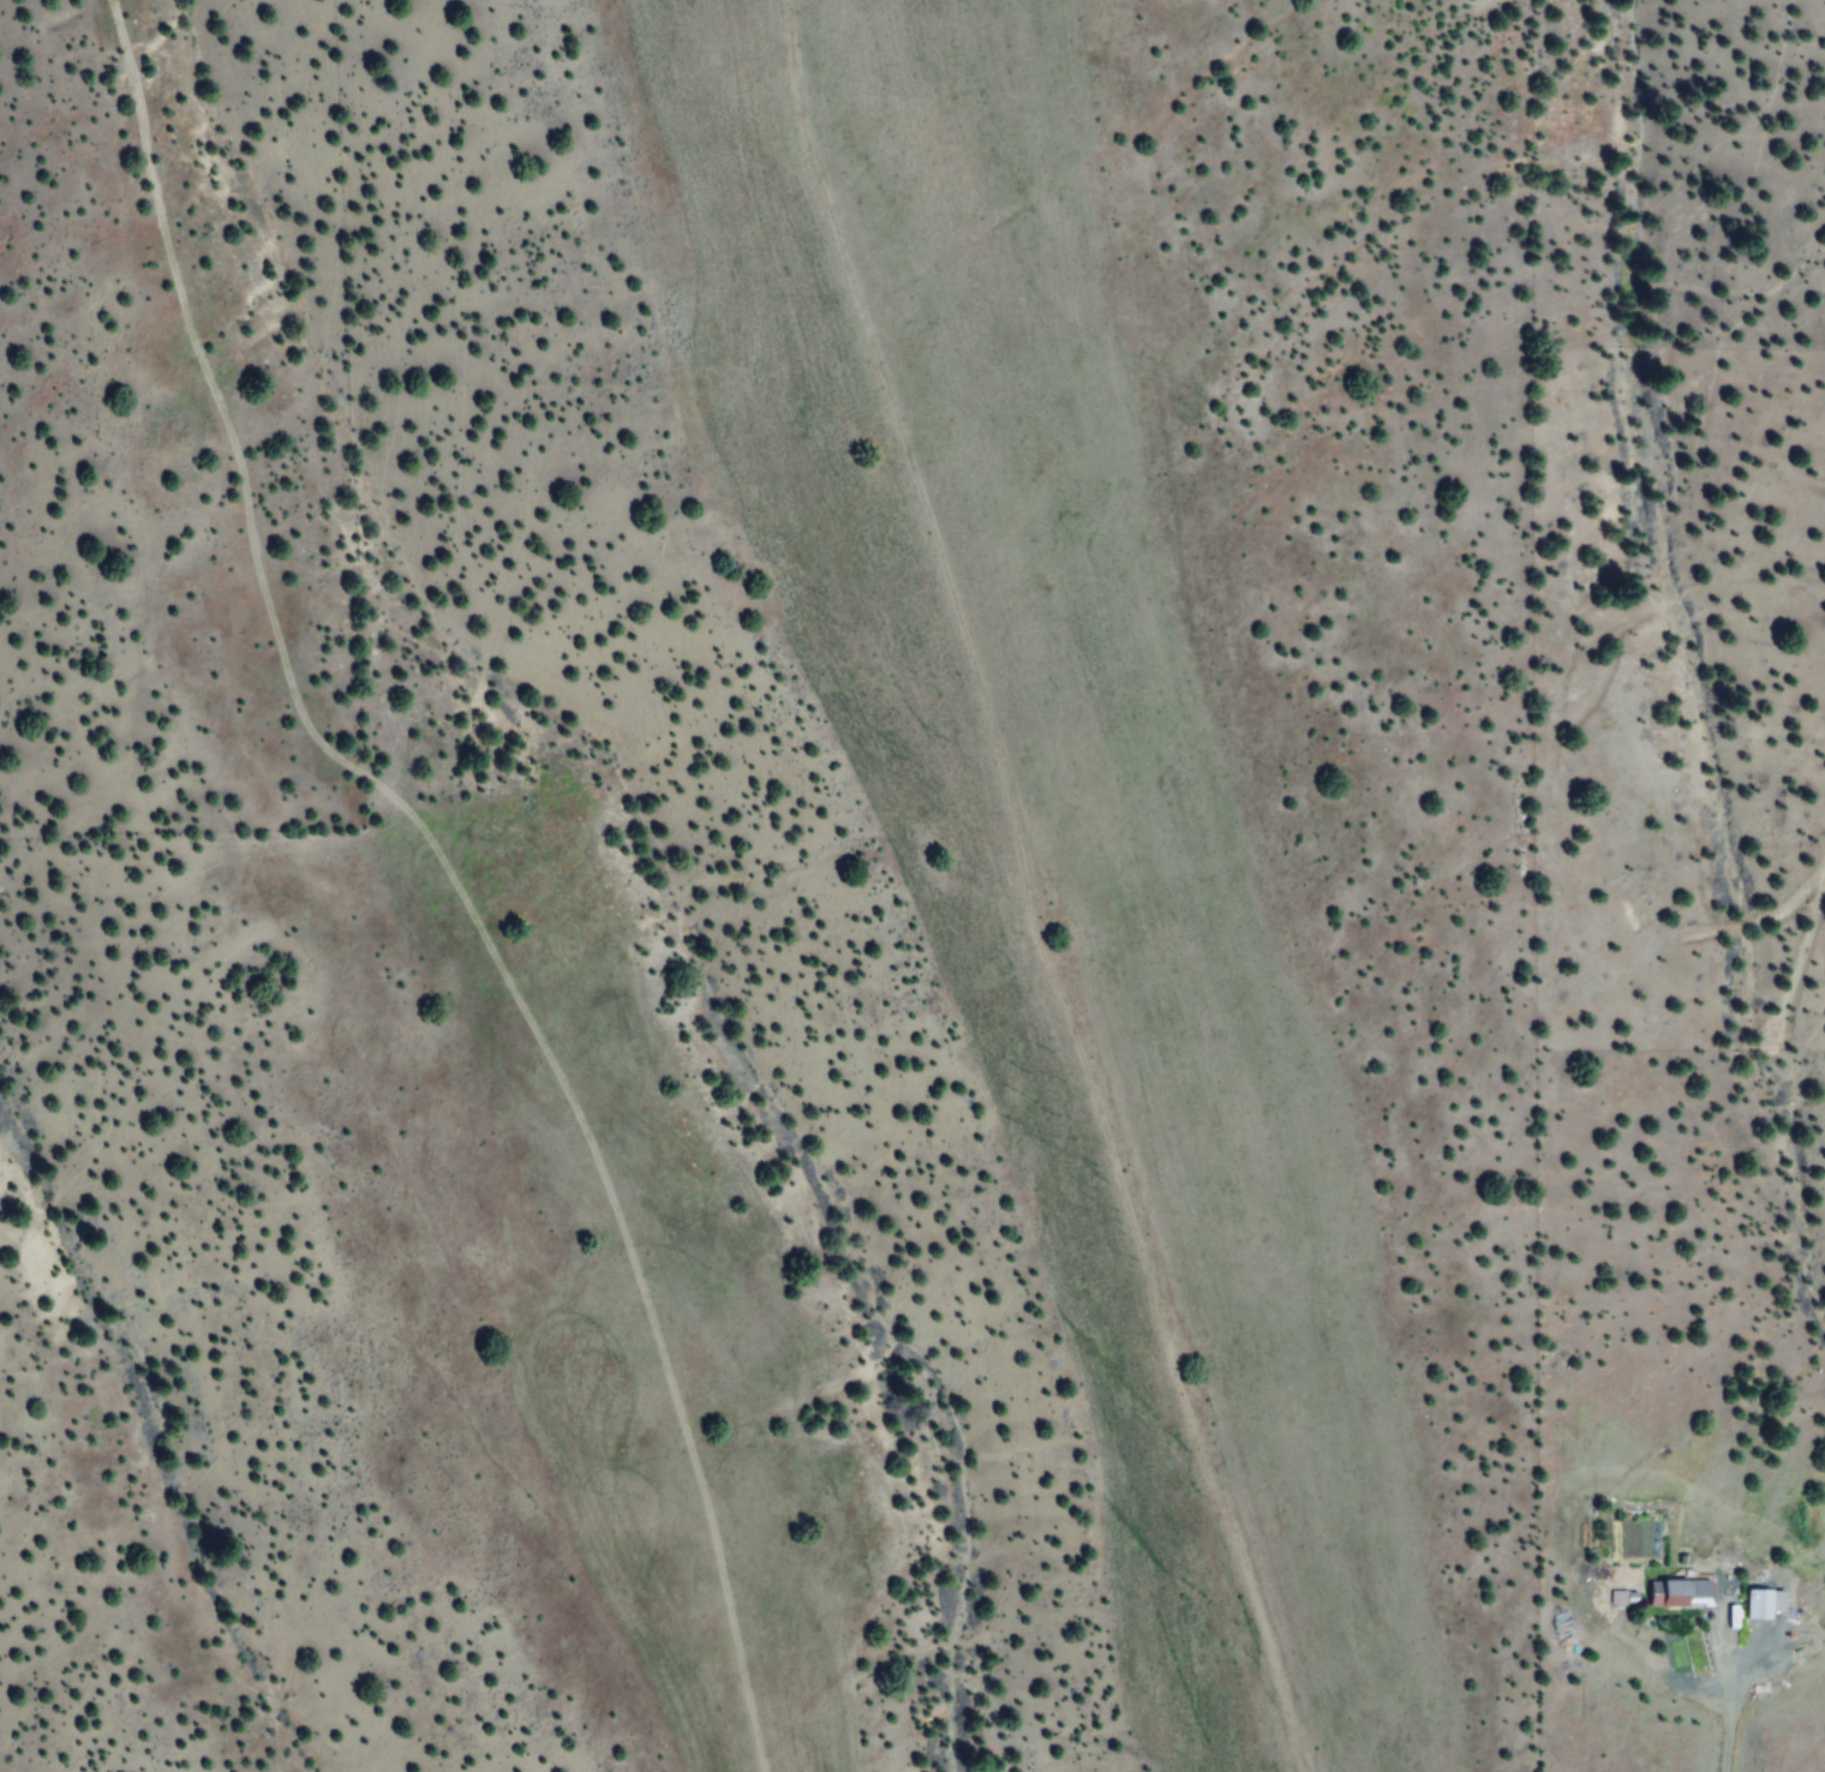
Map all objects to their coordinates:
building: (1677, 1593)
building: (1757, 1604)

